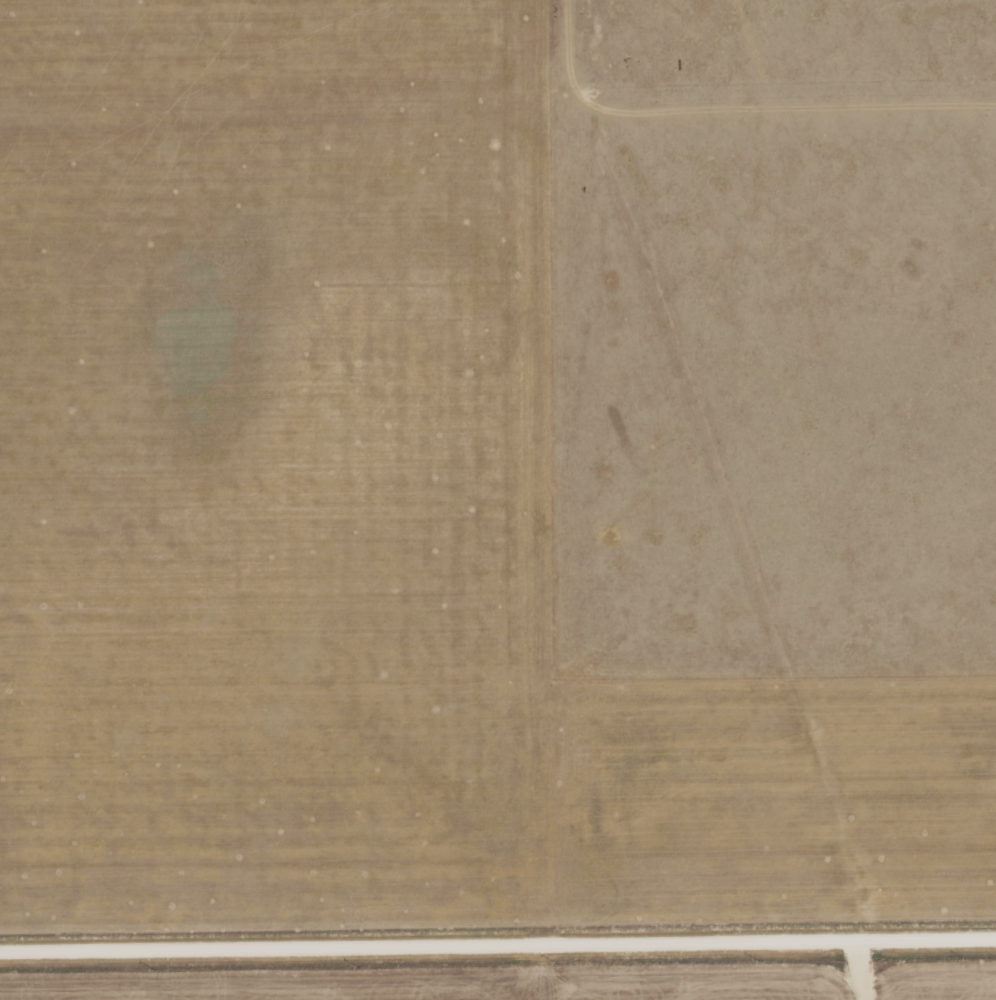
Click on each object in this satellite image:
road: (498, 941)

